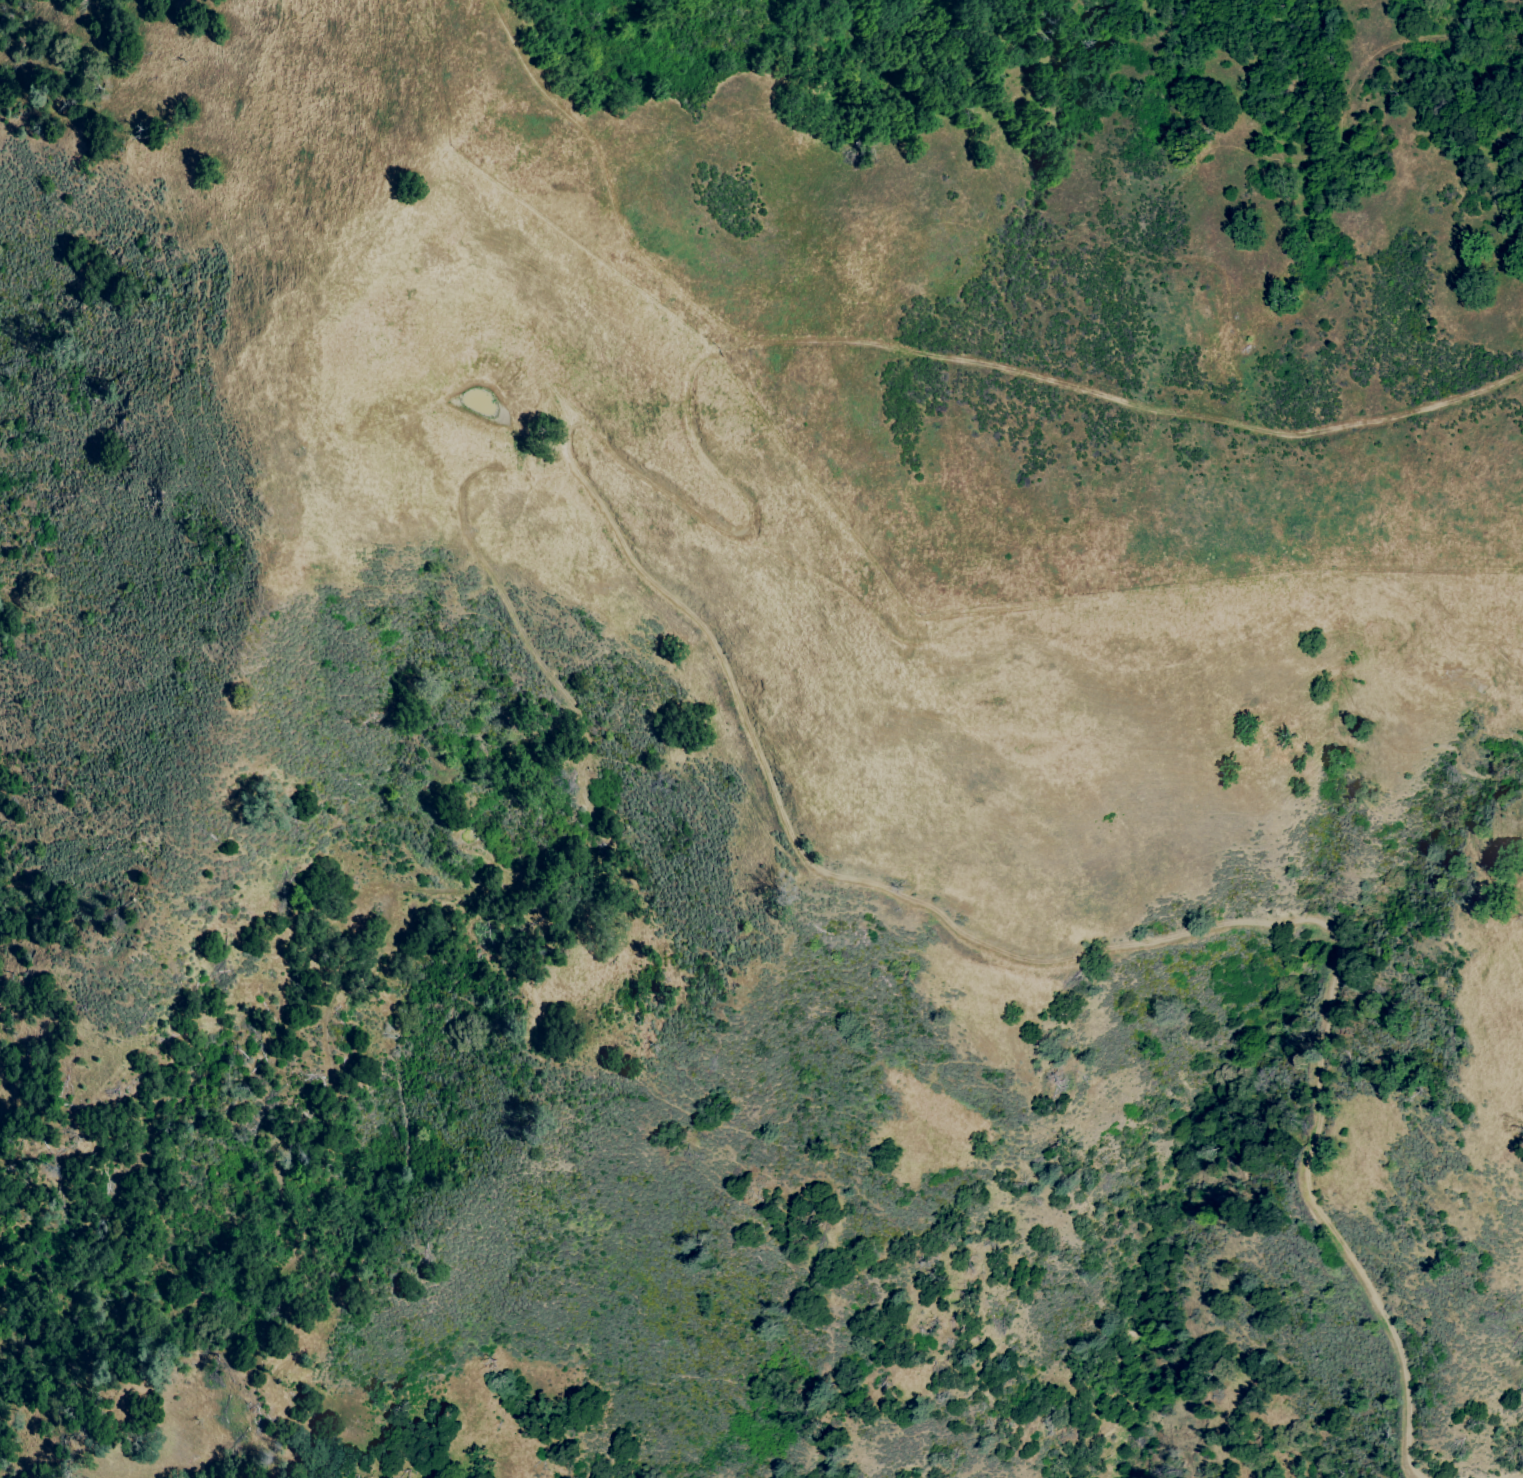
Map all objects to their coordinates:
road: (925, 354)

